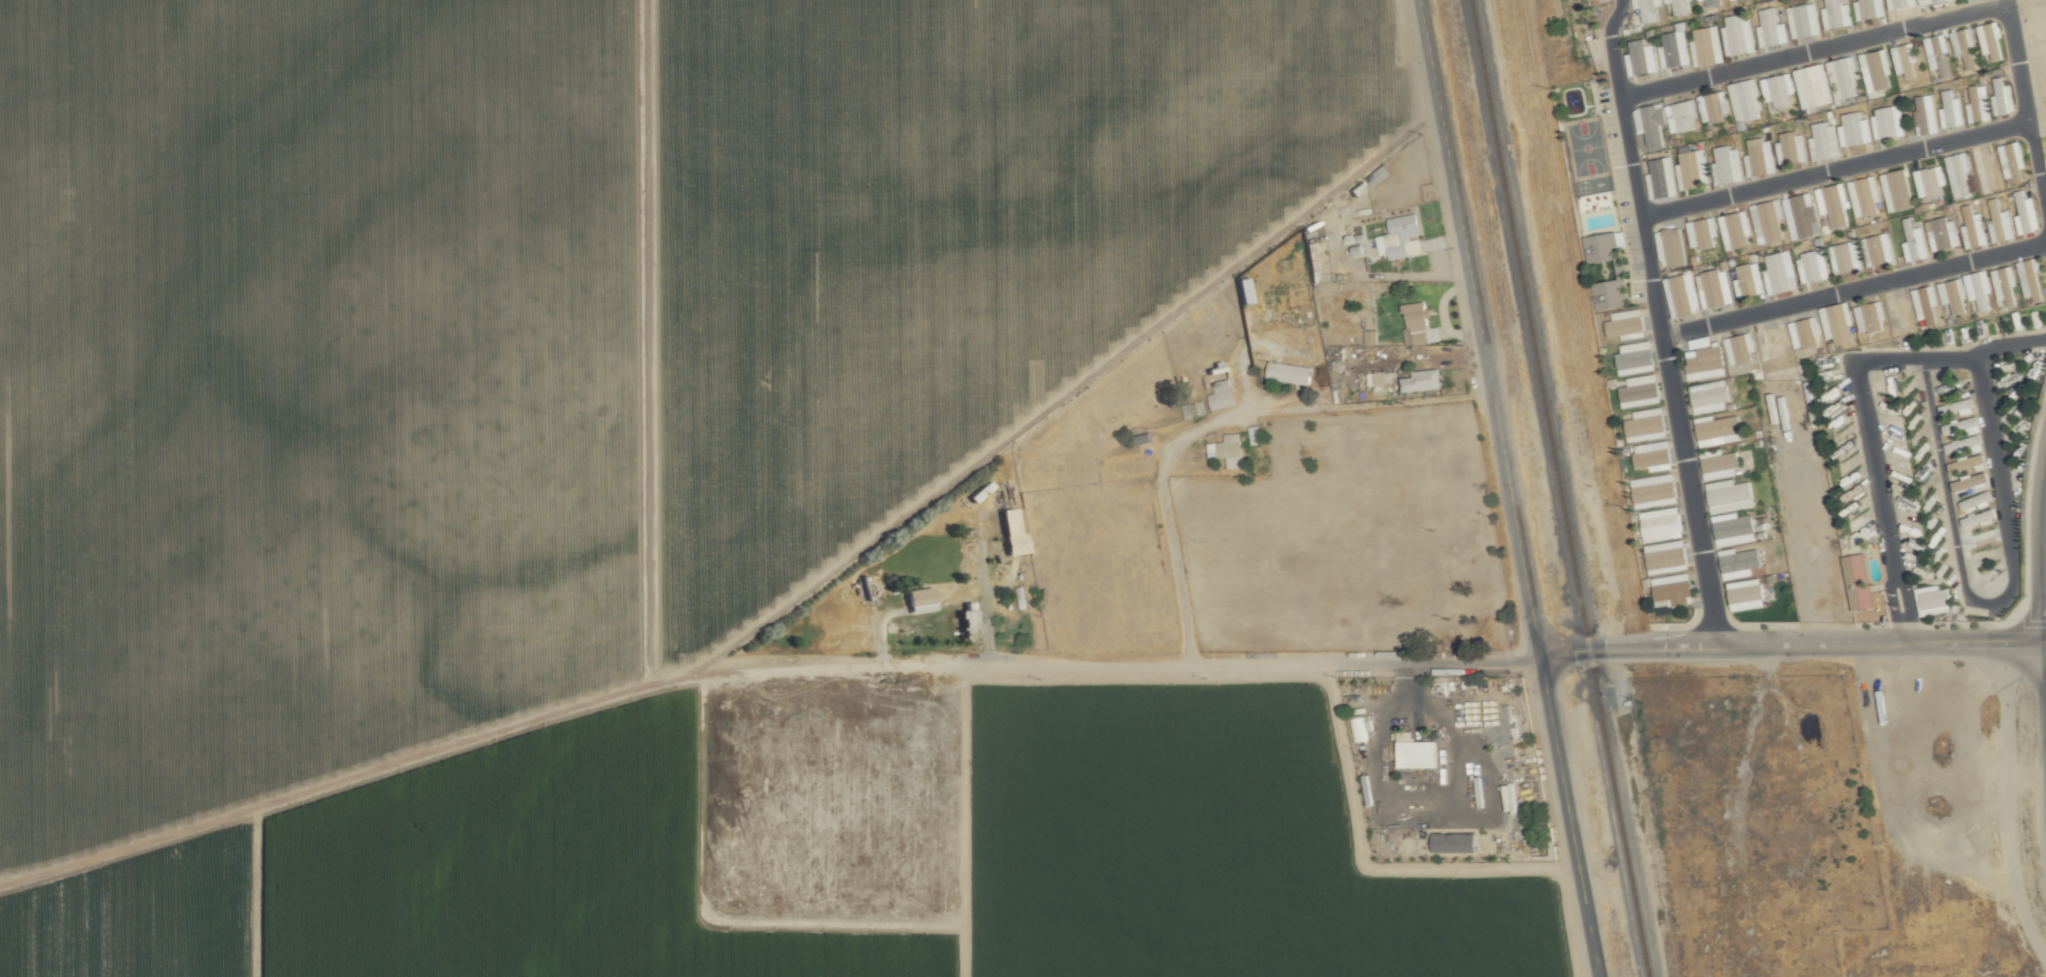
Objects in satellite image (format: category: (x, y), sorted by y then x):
building: (1600, 1)
building: (1713, 2)
building: (1682, 6)
building: (1869, 8)
building: (1648, 9)
building: (1798, 13)
building: (1837, 14)
building: (1772, 29)
building: (1739, 35)
building: (1991, 40)
building: (1965, 45)
building: (1707, 46)
building: (1673, 49)
road: (1812, 49)
building: (1938, 53)
building: (1640, 57)
building: (1906, 60)
building: (1879, 68)
building: (1844, 77)
building: (1813, 85)
building: (1744, 89)
building: (1779, 89)
building: (2006, 97)
building: (1978, 103)
building: (1713, 107)
building: (1950, 109)
road: (2025, 111)
building: (1925, 114)
building: (1682, 116)
building: (1890, 119)
building: (1652, 122)
building: (1822, 128)
building: (1854, 128)
building: (1792, 147)
building: (1757, 149)
building: (2011, 161)
building: (1730, 163)
building: (1694, 166)
building: (1984, 168)
road: (1834, 172)
building: (1958, 173)
building: (1663, 177)
building: (1929, 181)
building: (1896, 190)
building: (1864, 195)
building: (1832, 204)
building: (2026, 212)
building: (1800, 215)
building: (1732, 216)
building: (1767, 220)
building: (1999, 221)
building: (1973, 227)
building: (1700, 231)
building: (1943, 233)
building: (1402, 236)
building: (1914, 241)
building: (1604, 245)
building: (1671, 246)
building: (1880, 246)
building: (1849, 256)
building: (1812, 266)
building: (1779, 272)
building: (2031, 278)
building: (1747, 280)
building: (2006, 285)
building: (1712, 287)
road: (1853, 289)
building: (1612, 292)
building: (1954, 294)
building: (1681, 301)
building: (1927, 305)
building: (1899, 309)
building: (1870, 316)
building: (1626, 322)
building: (1839, 322)
building: (1419, 324)
road: (1659, 324)
road: (1478, 328)
building: (1805, 332)
building: (1372, 336)
building: (1772, 338)
building: (1701, 342)
road: (2009, 343)
building: (1740, 348)
building: (1636, 356)
building: (1706, 362)
building: (1290, 372)
building: (1425, 379)
building: (1641, 388)
building: (1223, 394)
road: (1068, 395)
building: (1711, 396)
building: (1956, 408)
building: (1193, 409)
road: (1214, 419)
building: (1646, 422)
building: (1725, 422)
building: (1955, 427)
building: (1256, 434)
road: (1869, 441)
building: (1228, 449)
building: (1653, 455)
building: (1966, 462)
building: (1720, 463)
building: (1970, 481)
railway: (1558, 488)
building: (1653, 488)
building: (1730, 495)
building: (1976, 500)
building: (1975, 519)
building: (1660, 524)
building: (1734, 528)
building: (1015, 530)
building: (1666, 554)
building: (1749, 559)
building: (1861, 581)
building: (1672, 588)
building: (1746, 593)
building: (1936, 597)
building: (923, 599)
road: (1988, 608)
building: (970, 616)
road: (2027, 624)
road: (1791, 647)
road: (1428, 663)
road: (645, 685)
building: (1357, 730)
road: (1460, 733)
building: (1405, 736)
building: (1419, 754)
road: (1568, 817)
building: (1456, 842)

